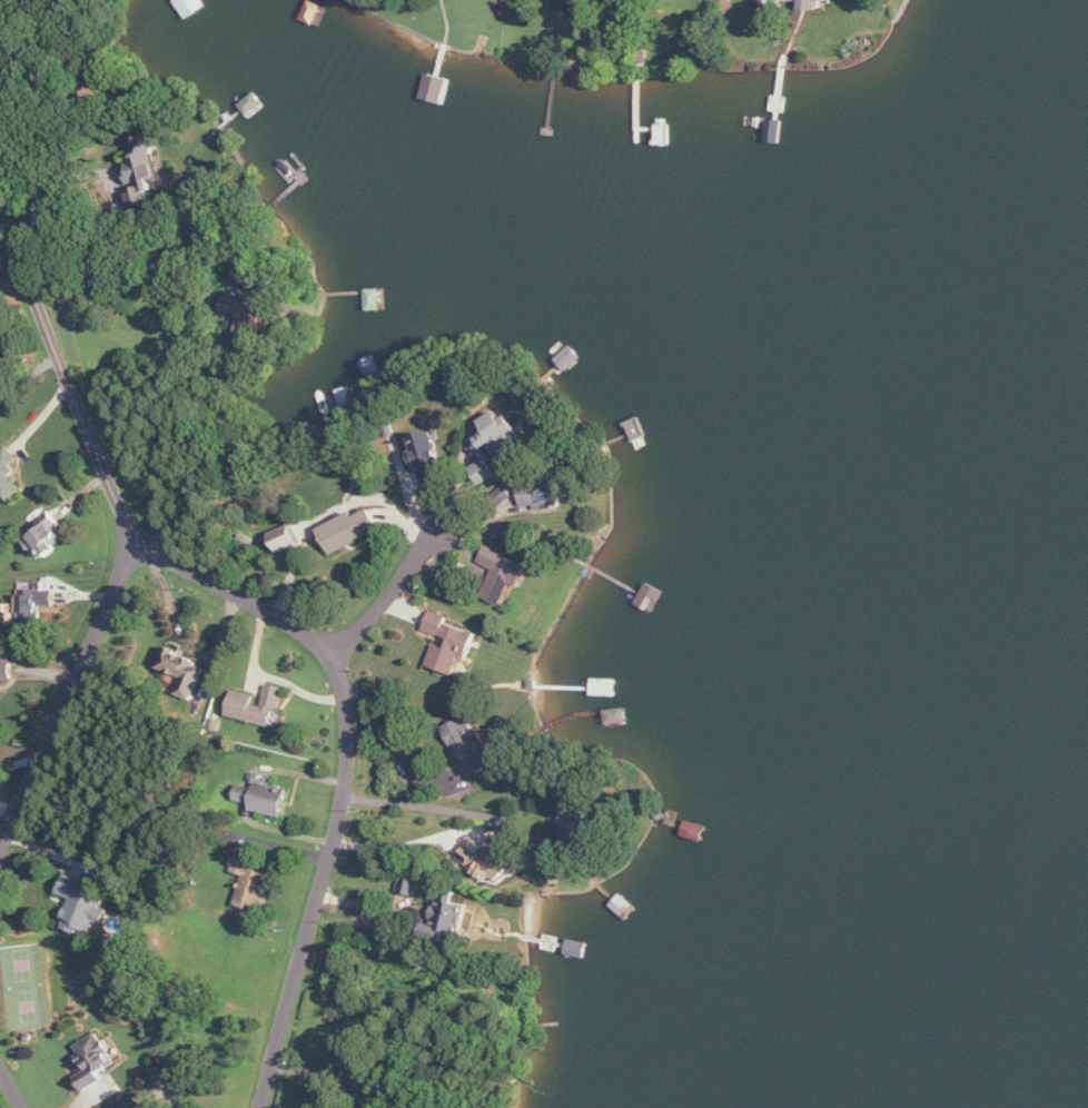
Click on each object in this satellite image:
building: (564, 4)
building: (810, 4)
building: (144, 171)
road: (26, 189)
road: (118, 200)
road: (248, 286)
building: (248, 313)
road: (71, 385)
building: (501, 437)
building: (427, 457)
building: (486, 471)
building: (9, 476)
building: (538, 495)
building: (348, 530)
building: (286, 537)
building: (47, 540)
building: (503, 574)
road: (385, 593)
building: (34, 603)
building: (463, 641)
building: (6, 666)
building: (185, 671)
road: (63, 702)
building: (257, 705)
building: (467, 743)
road: (347, 772)
building: (264, 803)
road: (454, 808)
building: (578, 820)
building: (491, 859)
building: (250, 881)
building: (411, 886)
building: (85, 904)
building: (447, 919)
building: (95, 1060)
road: (324, 1076)
road: (12, 1084)
building: (135, 1102)

